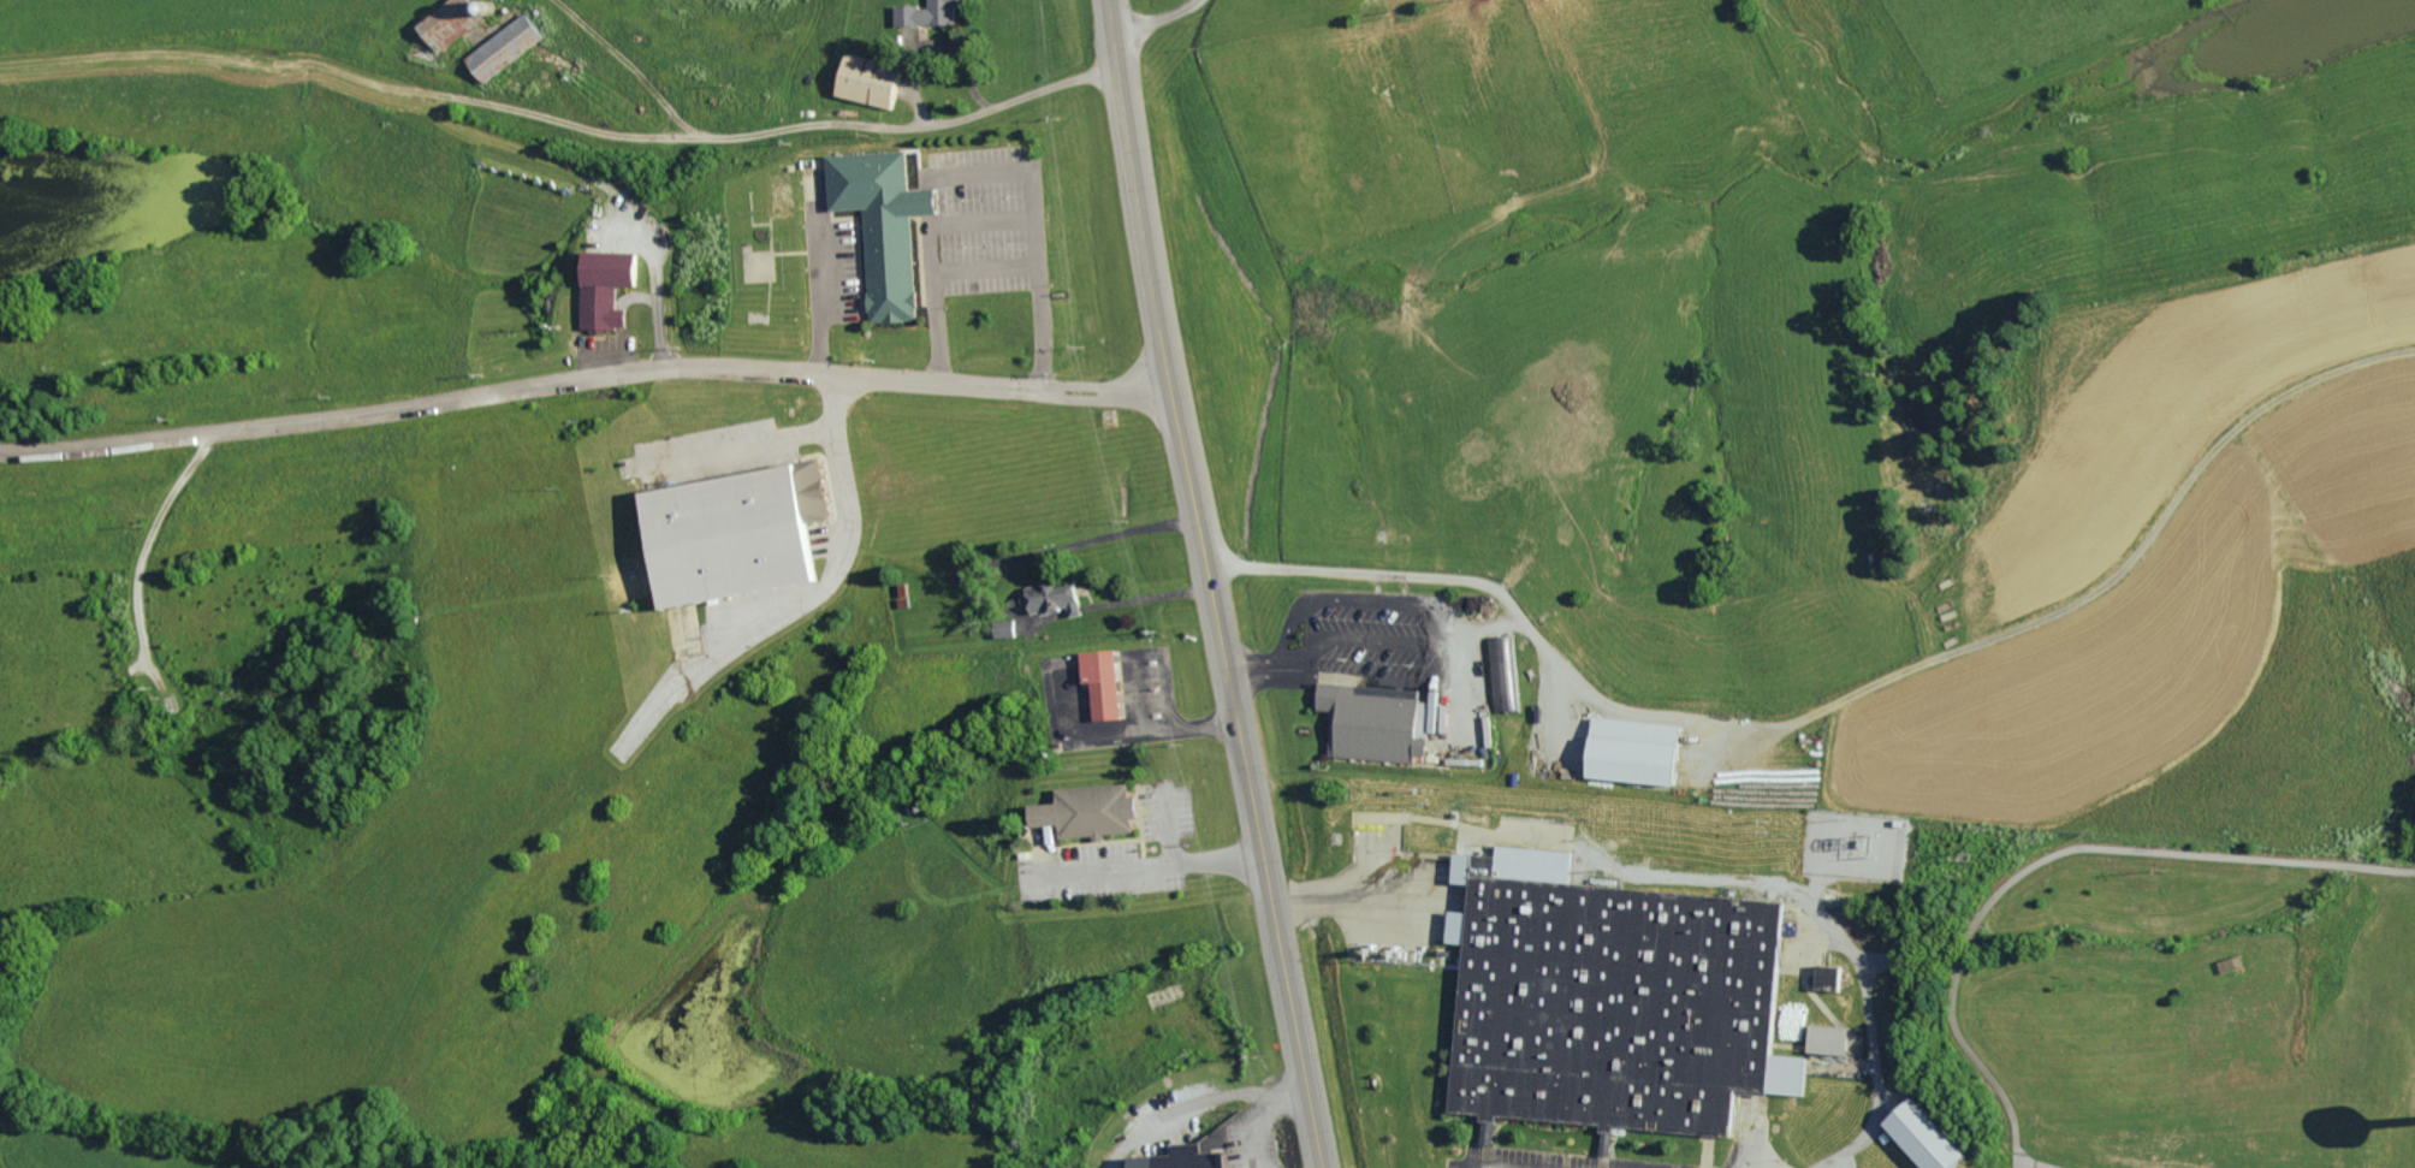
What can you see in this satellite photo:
building: (930, 13)
building: (457, 22)
building: (510, 47)
building: (879, 81)
road: (989, 223)
building: (885, 227)
helipad: (758, 267)
road: (987, 268)
building: (606, 289)
road: (585, 368)
building: (734, 532)
road: (1476, 582)
road: (1212, 583)
building: (1057, 597)
road: (1478, 627)
building: (1009, 628)
road: (1442, 629)
road: (1248, 668)
building: (1503, 674)
building: (1102, 684)
building: (1371, 724)
building: (1644, 751)
building: (1090, 810)
power substation: (1845, 843)
road: (1157, 862)
building: (1830, 978)
building: (1165, 996)
building: (1613, 1001)
park: (2188, 1002)
building: (1832, 1040)
building: (1192, 1073)
building: (1491, 1133)
building: (1935, 1138)
building: (1188, 1157)
building: (1046, 1166)

